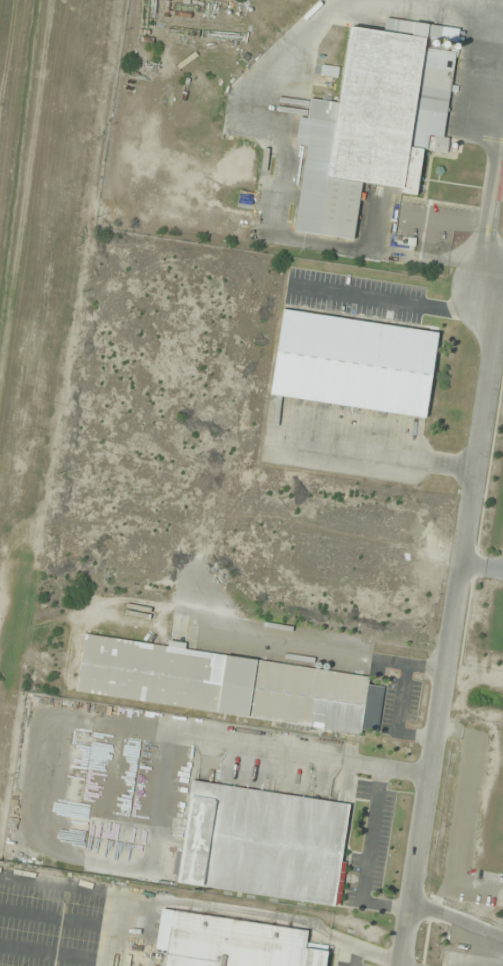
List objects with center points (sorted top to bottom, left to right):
building: (371, 123)
road: (502, 293)
building: (352, 363)
road: (452, 629)
building: (226, 684)
building: (26, 753)
building: (262, 843)
building: (232, 942)

